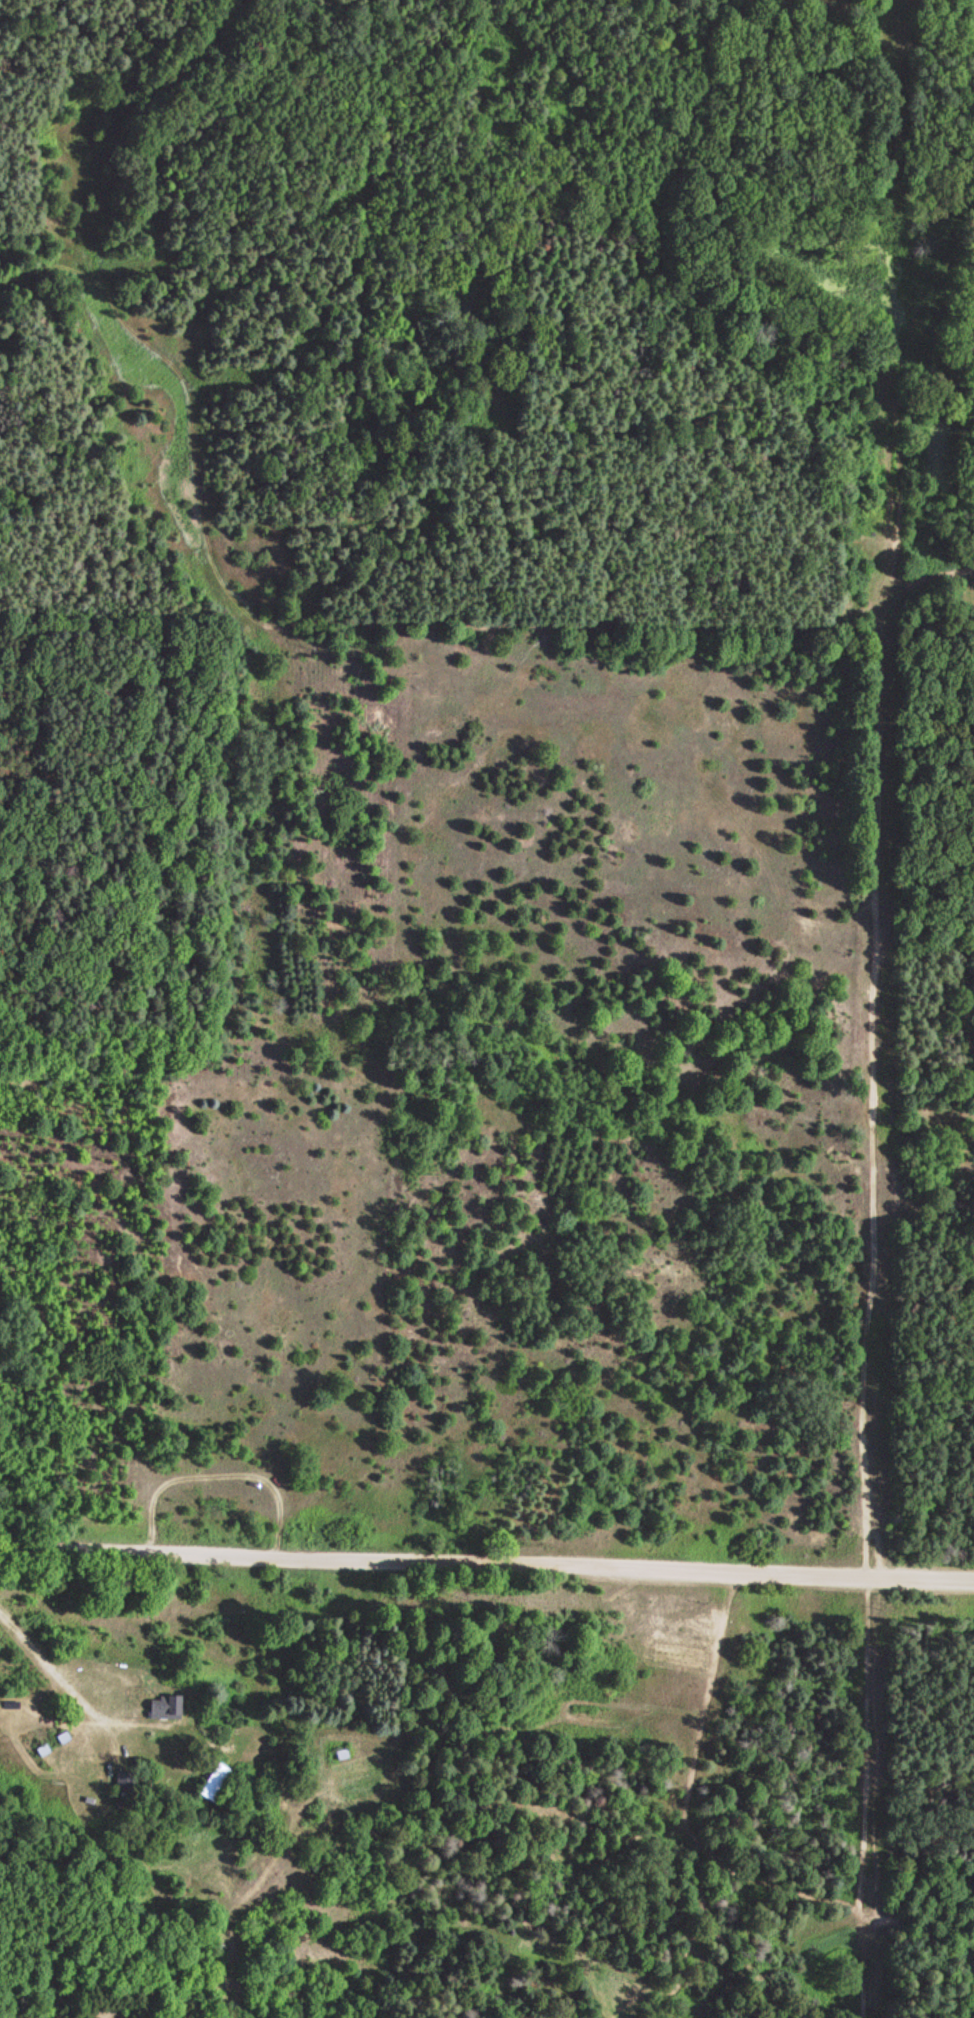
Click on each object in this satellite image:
road: (487, 1553)
building: (165, 1706)
building: (340, 1754)
building: (215, 1782)
building: (124, 1784)

